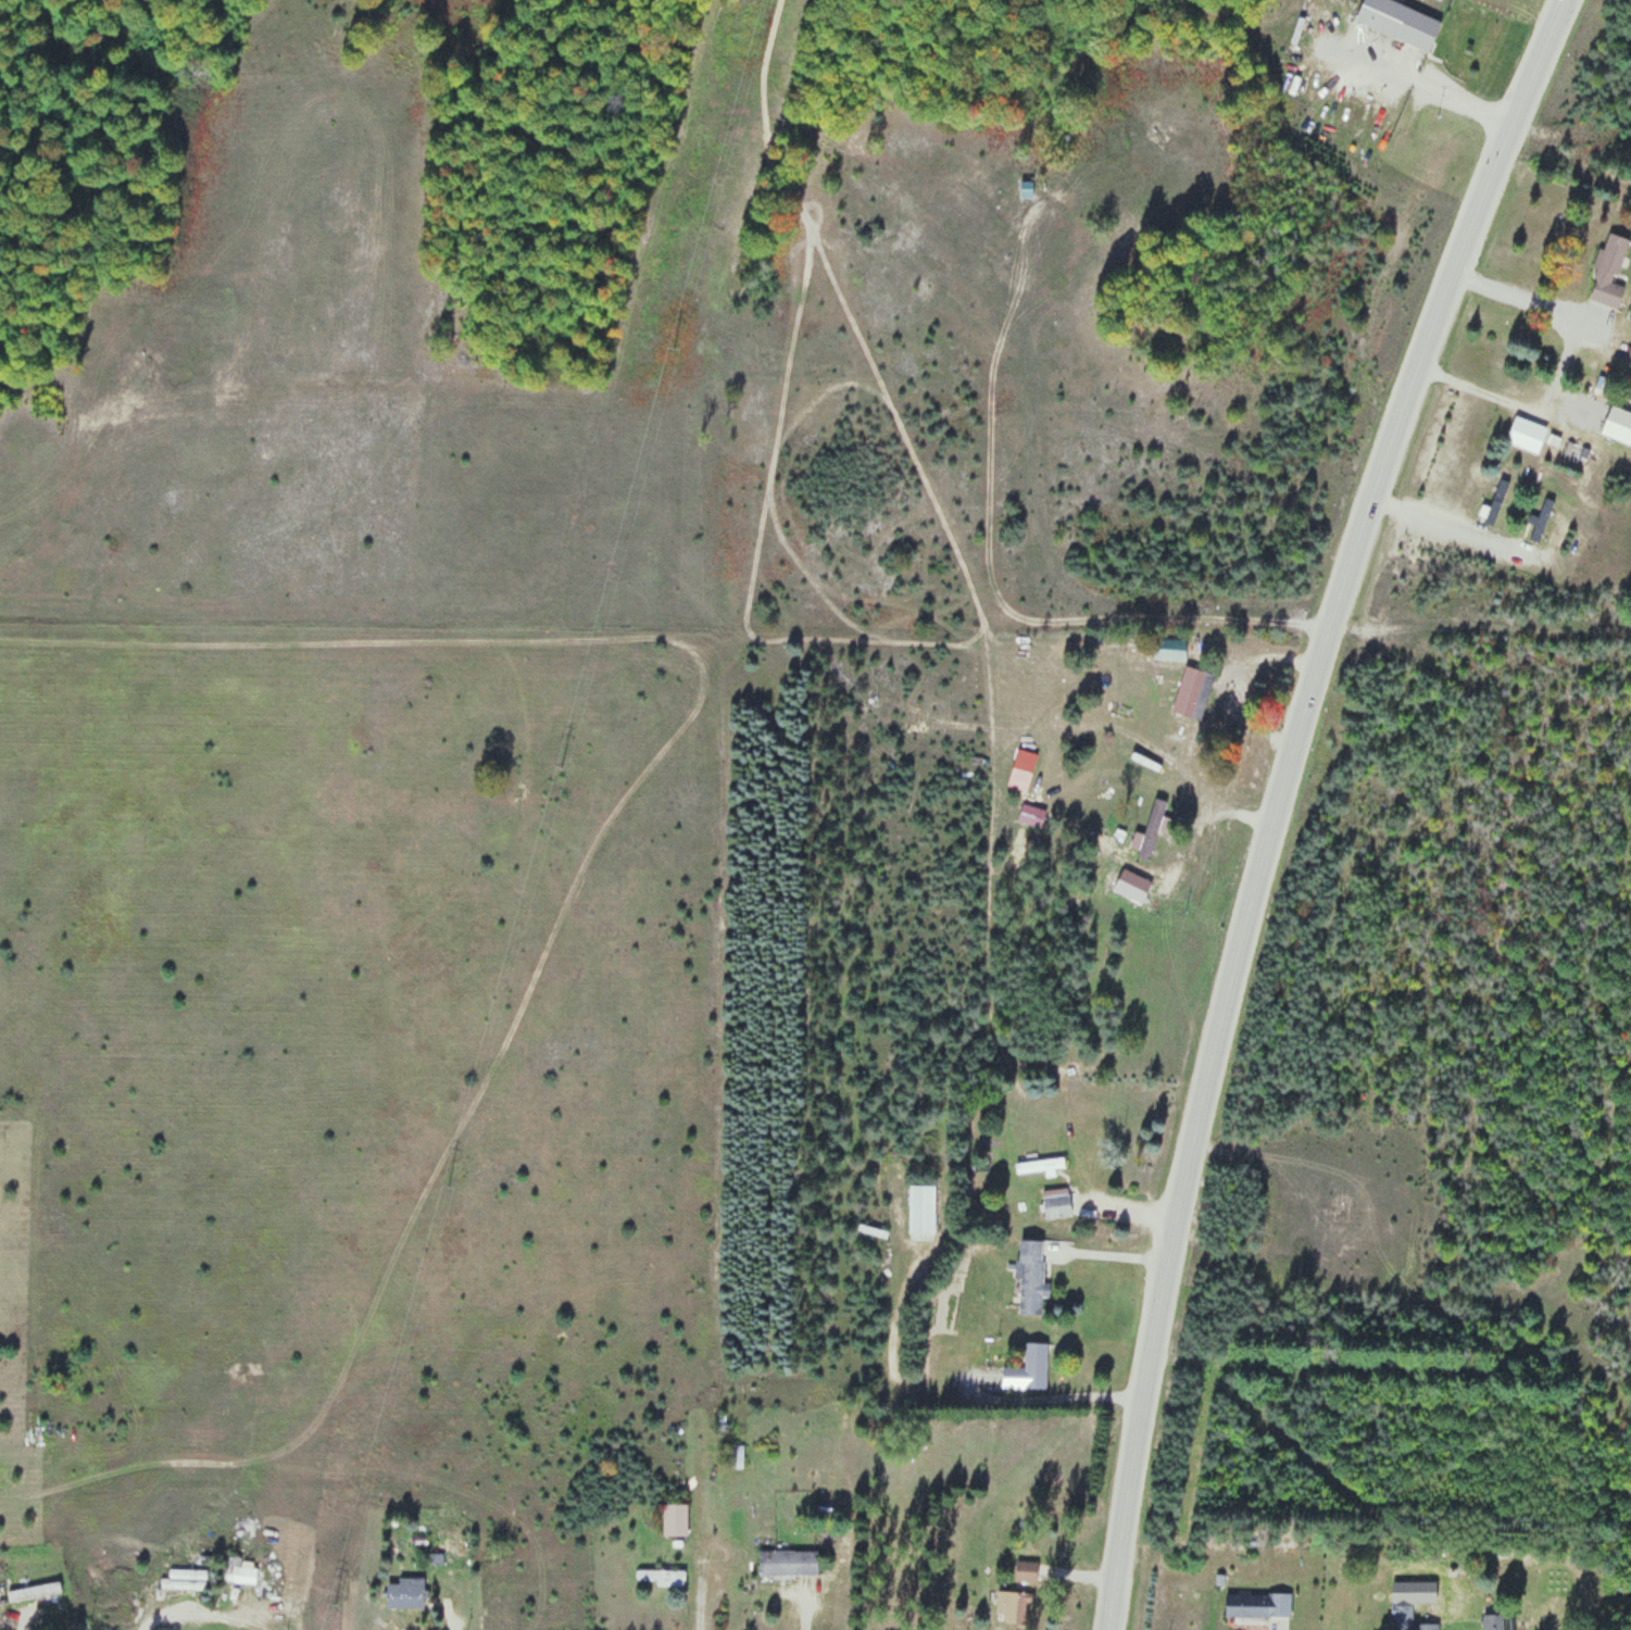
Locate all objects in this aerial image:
building: (1397, 22)
building: (1026, 188)
building: (1607, 272)
building: (1526, 434)
building: (1495, 502)
building: (1540, 522)
building: (1169, 650)
building: (1197, 694)
road: (1280, 799)
building: (1156, 815)
building: (1131, 886)
building: (1056, 1202)
building: (921, 1209)
building: (1029, 1277)
building: (1028, 1369)
building: (674, 1519)
building: (787, 1562)
building: (241, 1571)
building: (1026, 1571)
building: (660, 1577)
building: (184, 1580)
building: (34, 1591)
building: (404, 1594)
building: (2, 1595)
building: (1257, 1605)
building: (1012, 1606)
building: (1406, 1617)
building: (1492, 1621)

